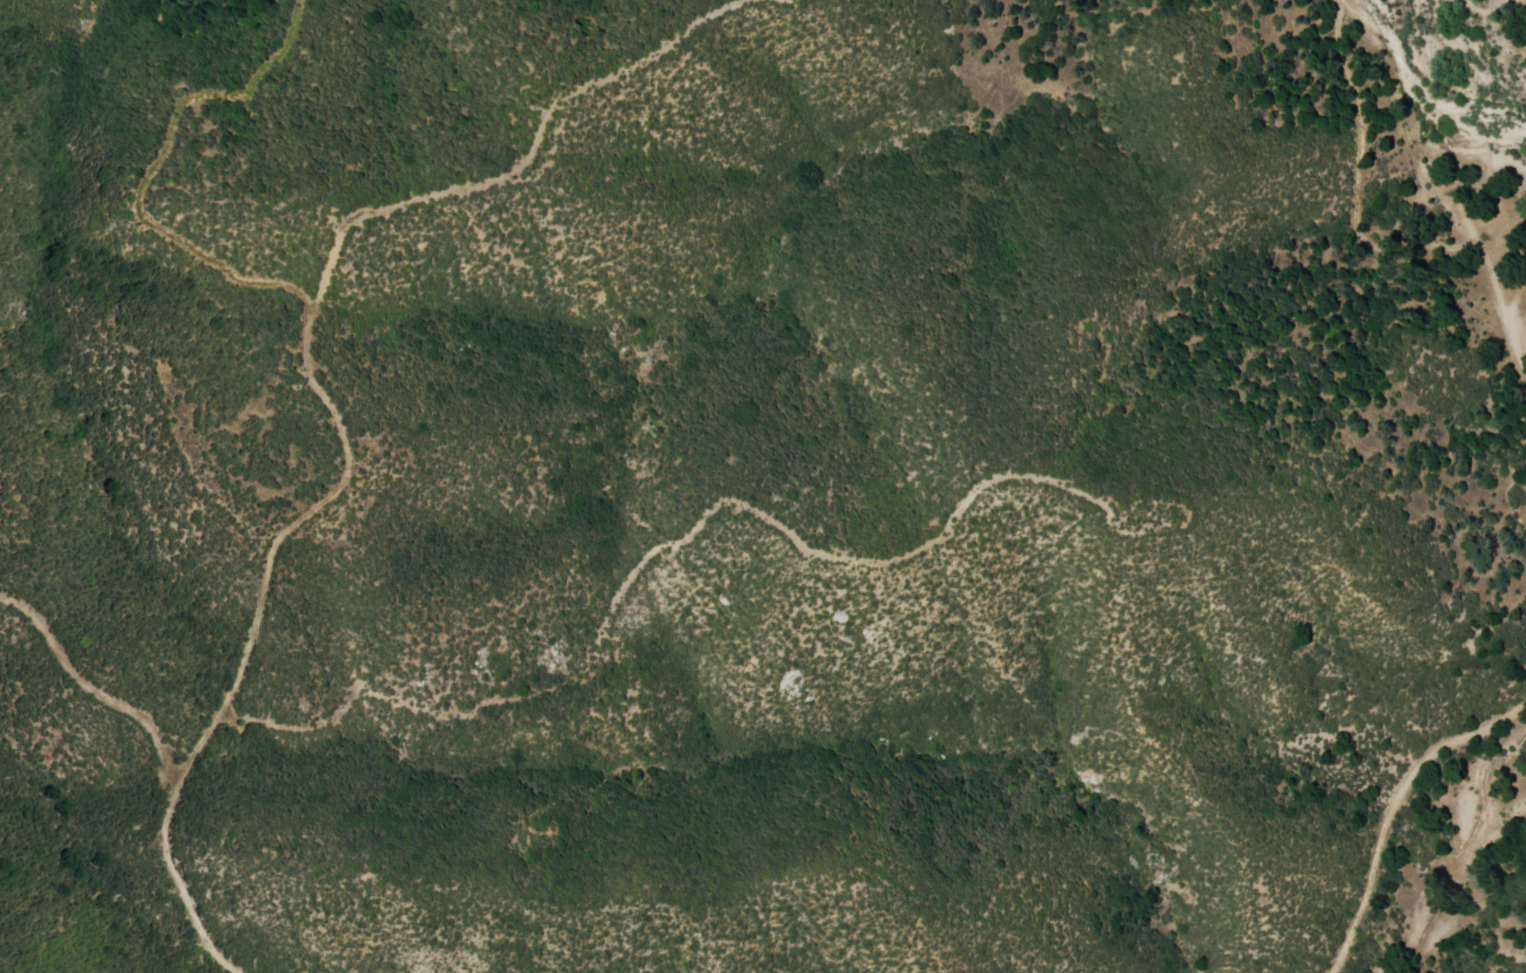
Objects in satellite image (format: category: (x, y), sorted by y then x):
road: (1481, 36)
road: (1505, 320)
road: (1393, 812)

